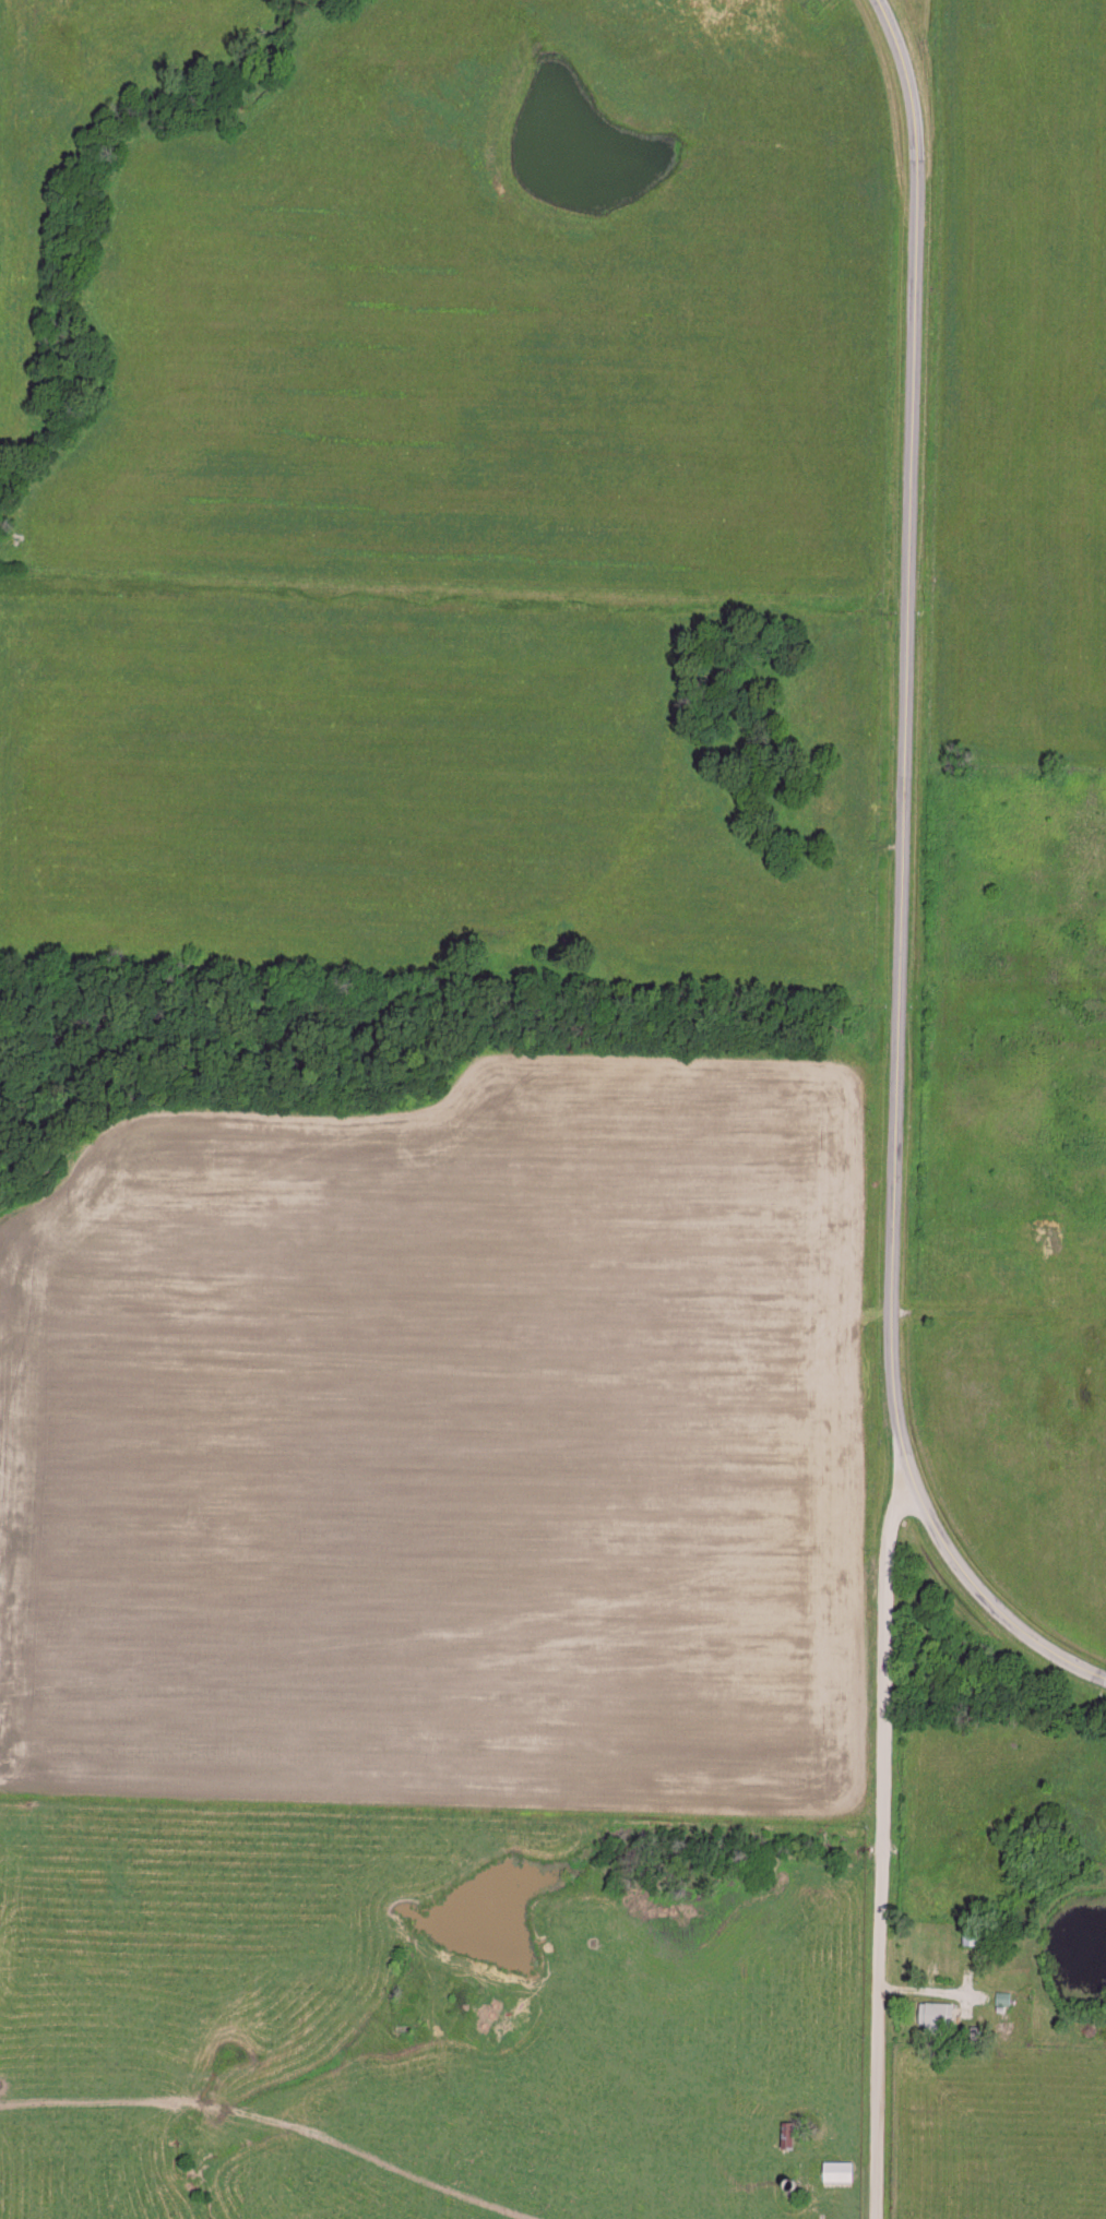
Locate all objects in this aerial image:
road: (903, 881)
road: (999, 1311)
road: (880, 1849)
road: (954, 1981)
building: (933, 2015)
building: (835, 2169)

